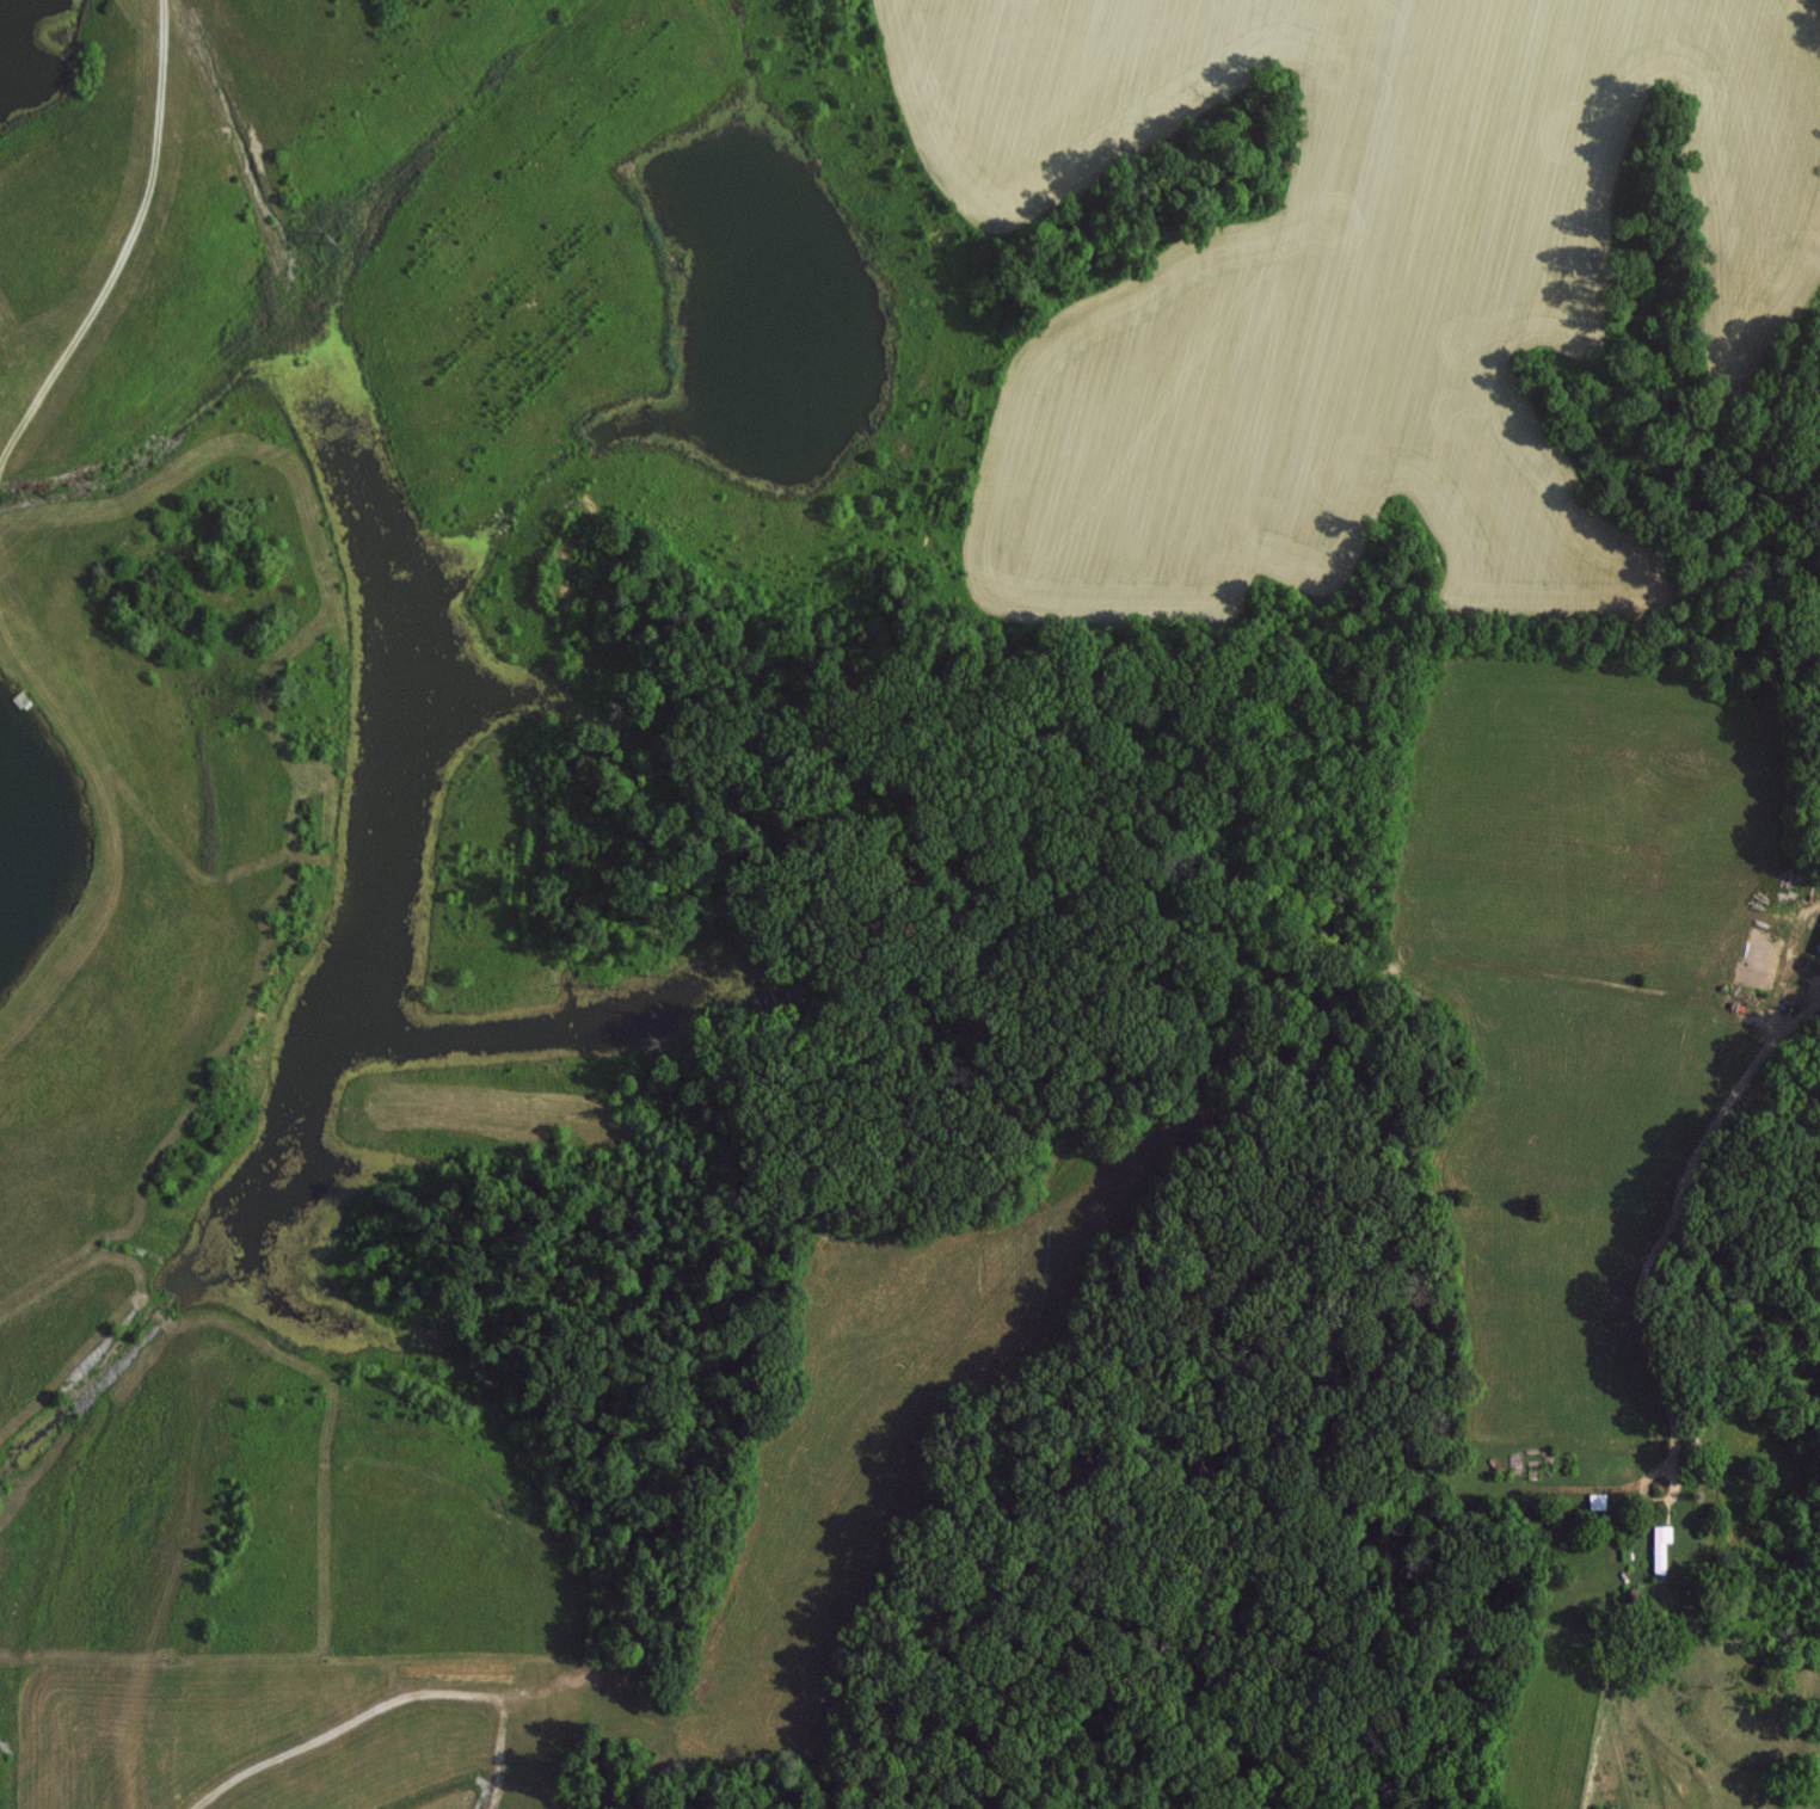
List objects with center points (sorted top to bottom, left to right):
power tower: (334, 235)
road: (1094, 885)
building: (1818, 945)
road: (973, 1380)
building: (1660, 1545)

